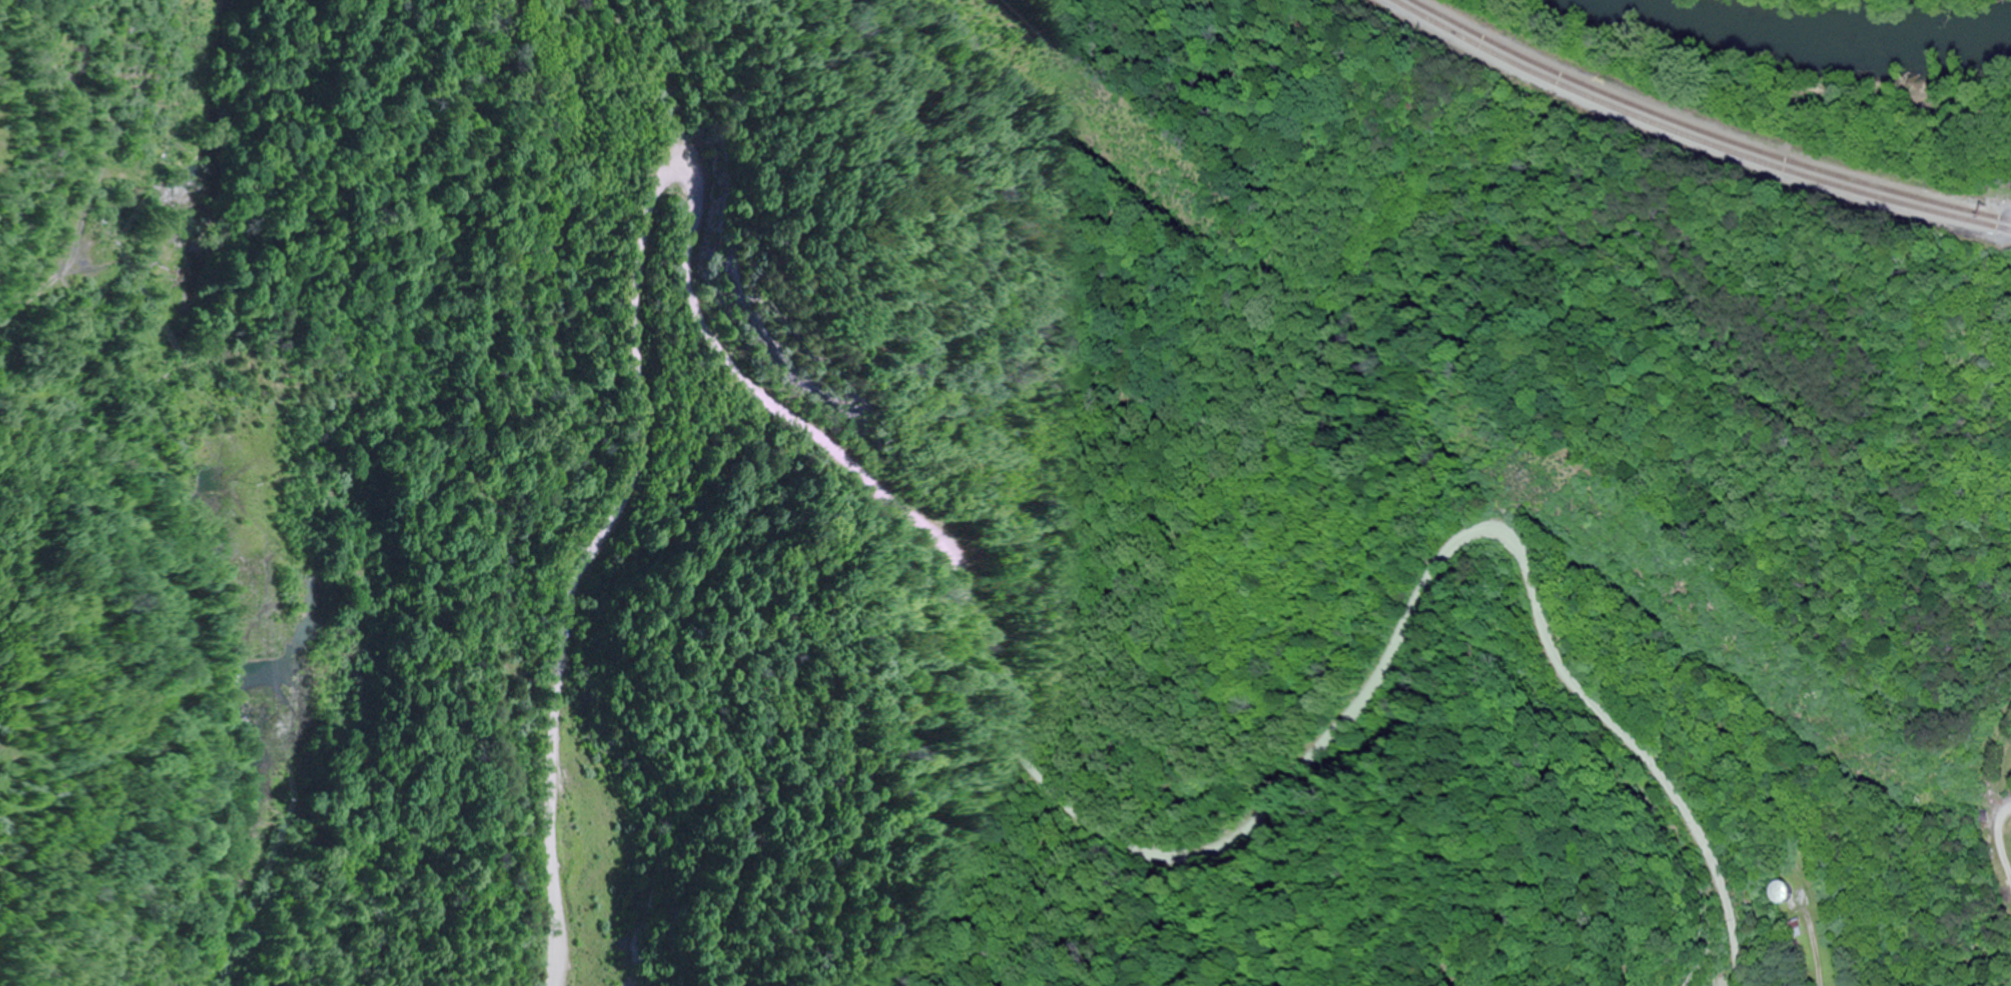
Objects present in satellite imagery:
river: (1821, 33)
railway: (1699, 129)
road: (966, 573)
road: (1993, 857)
building: (1784, 893)
building: (1799, 929)

